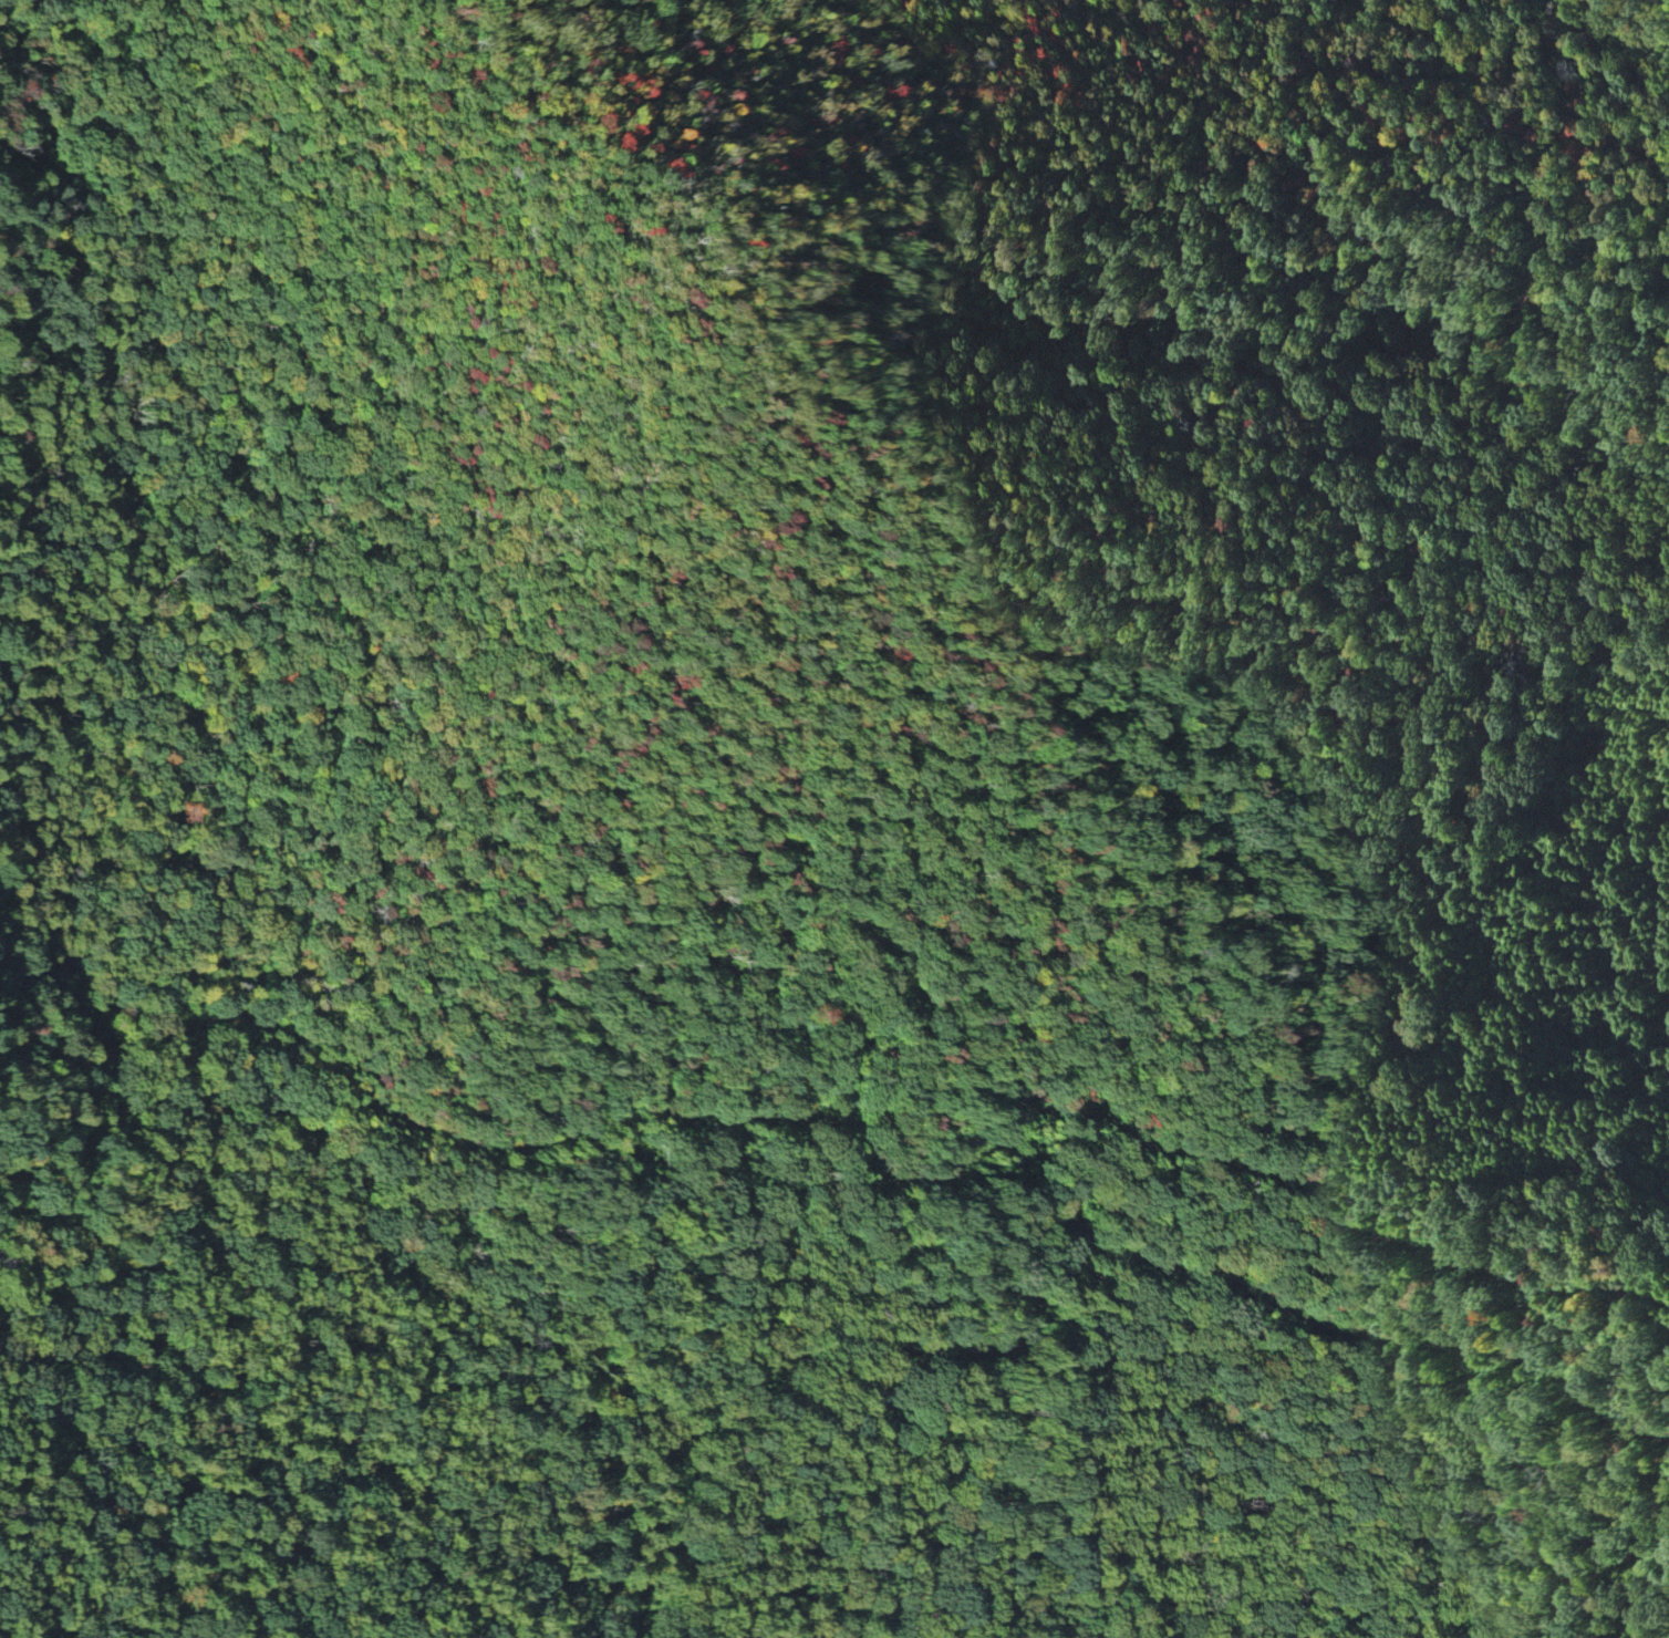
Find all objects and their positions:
road: (476, 77)
road: (791, 1122)
road: (1028, 1256)

